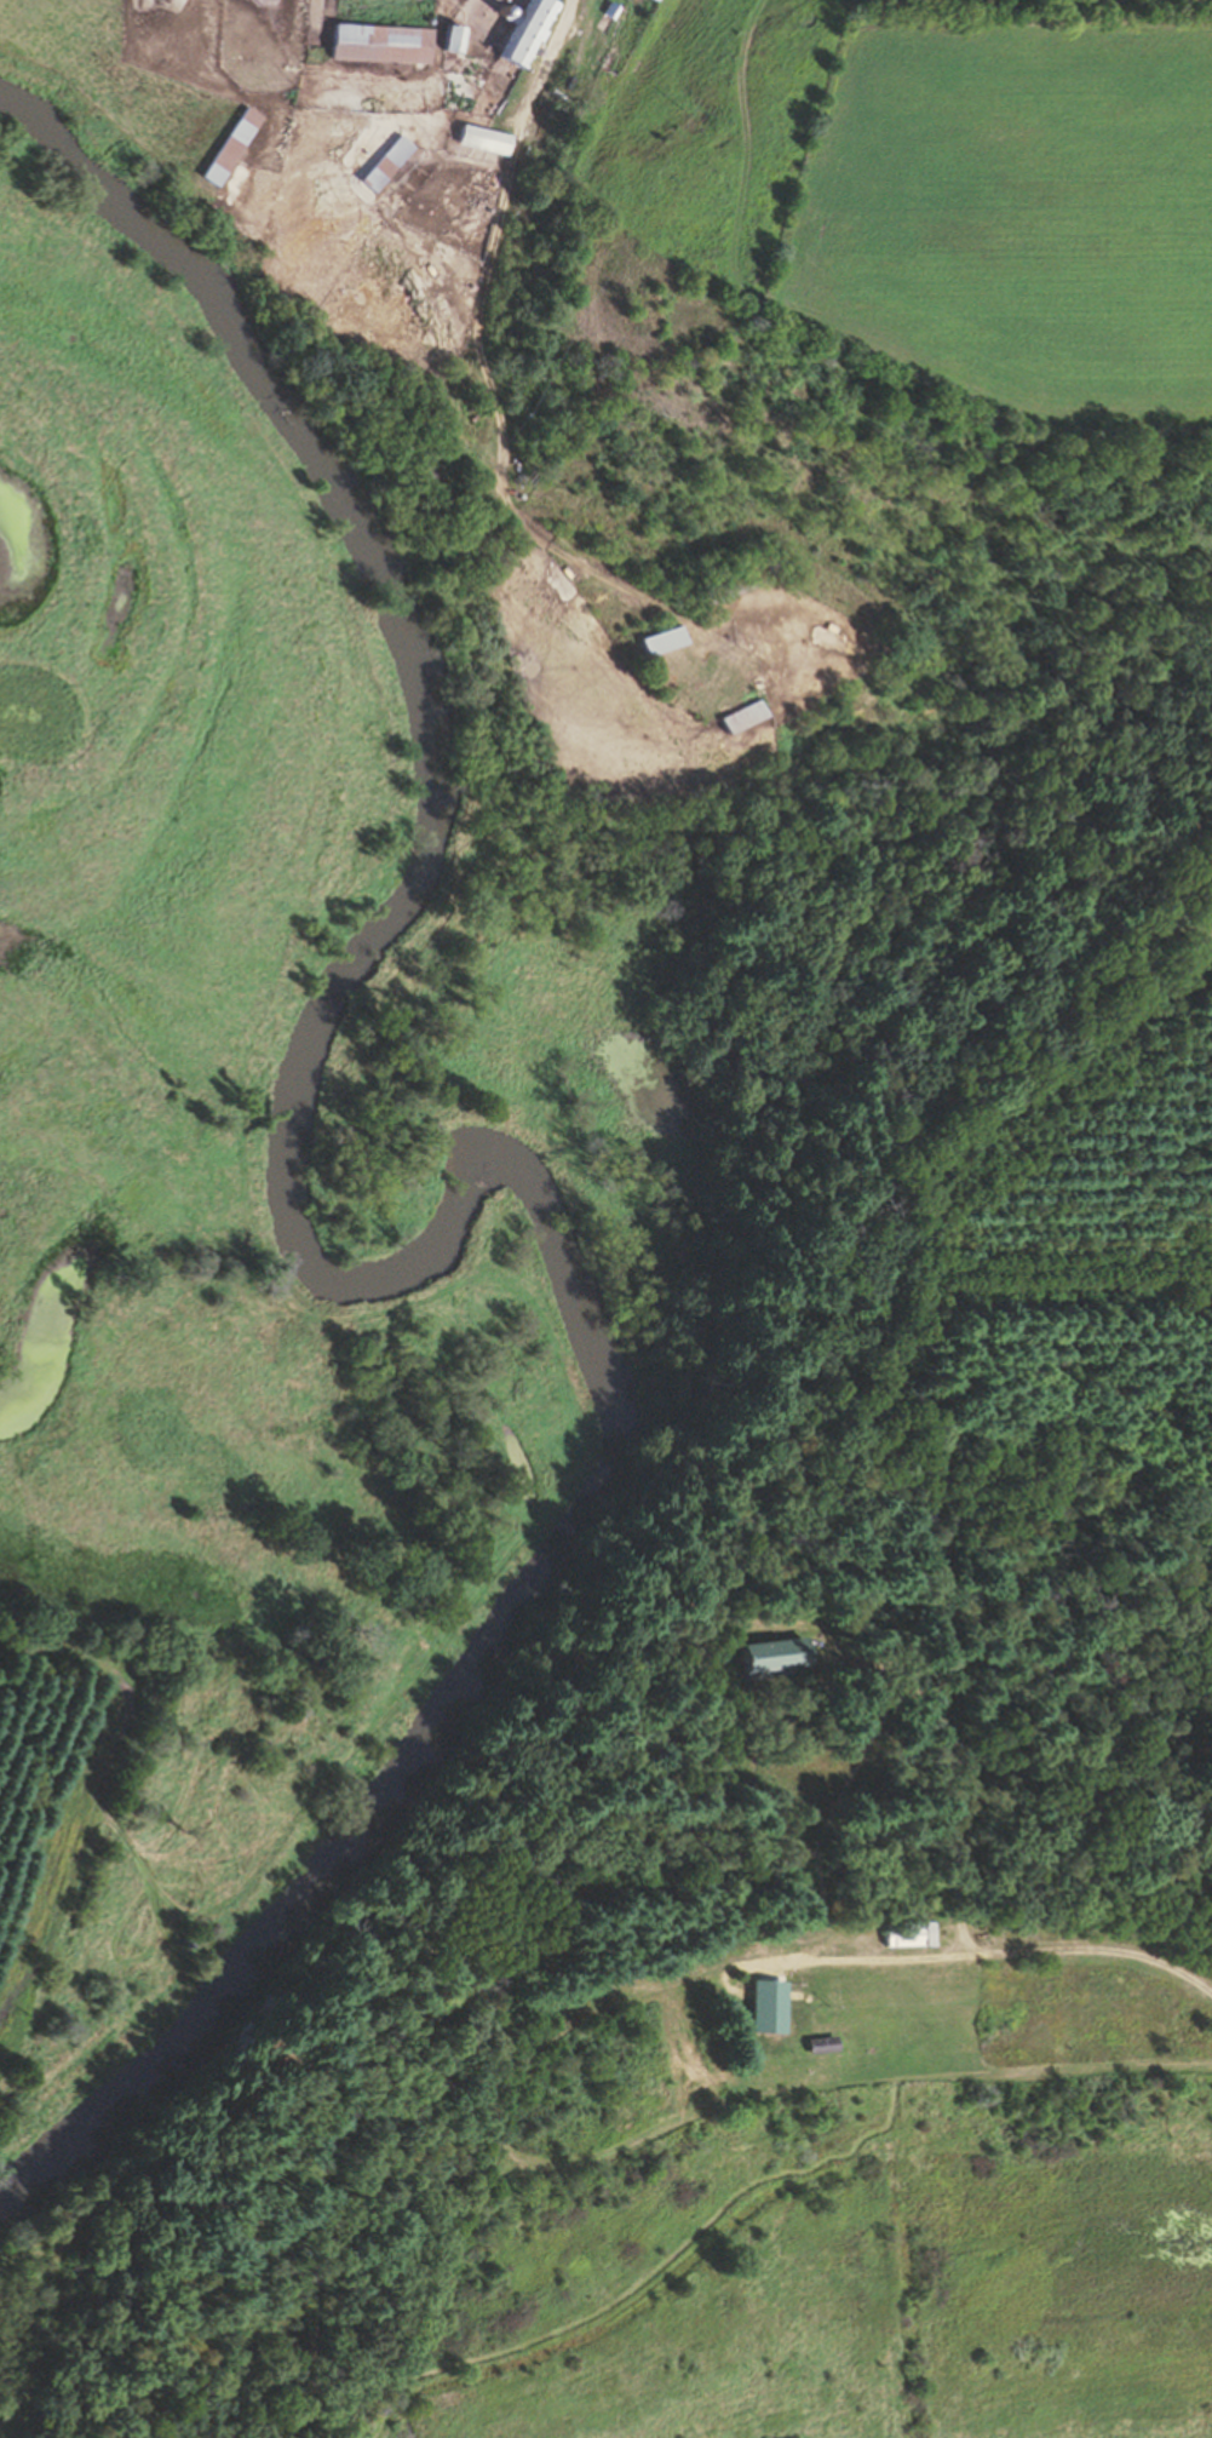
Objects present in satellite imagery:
building: (661, 0)
building: (523, 33)
building: (448, 39)
building: (378, 44)
road: (546, 61)
building: (482, 140)
building: (224, 147)
building: (380, 164)
building: (731, 584)
building: (656, 641)
building: (736, 716)
river: (363, 1277)
building: (763, 1658)
building: (903, 1935)
building: (788, 1938)
building: (182, 1940)
road: (1039, 1955)
building: (751, 2006)
building: (814, 2046)

